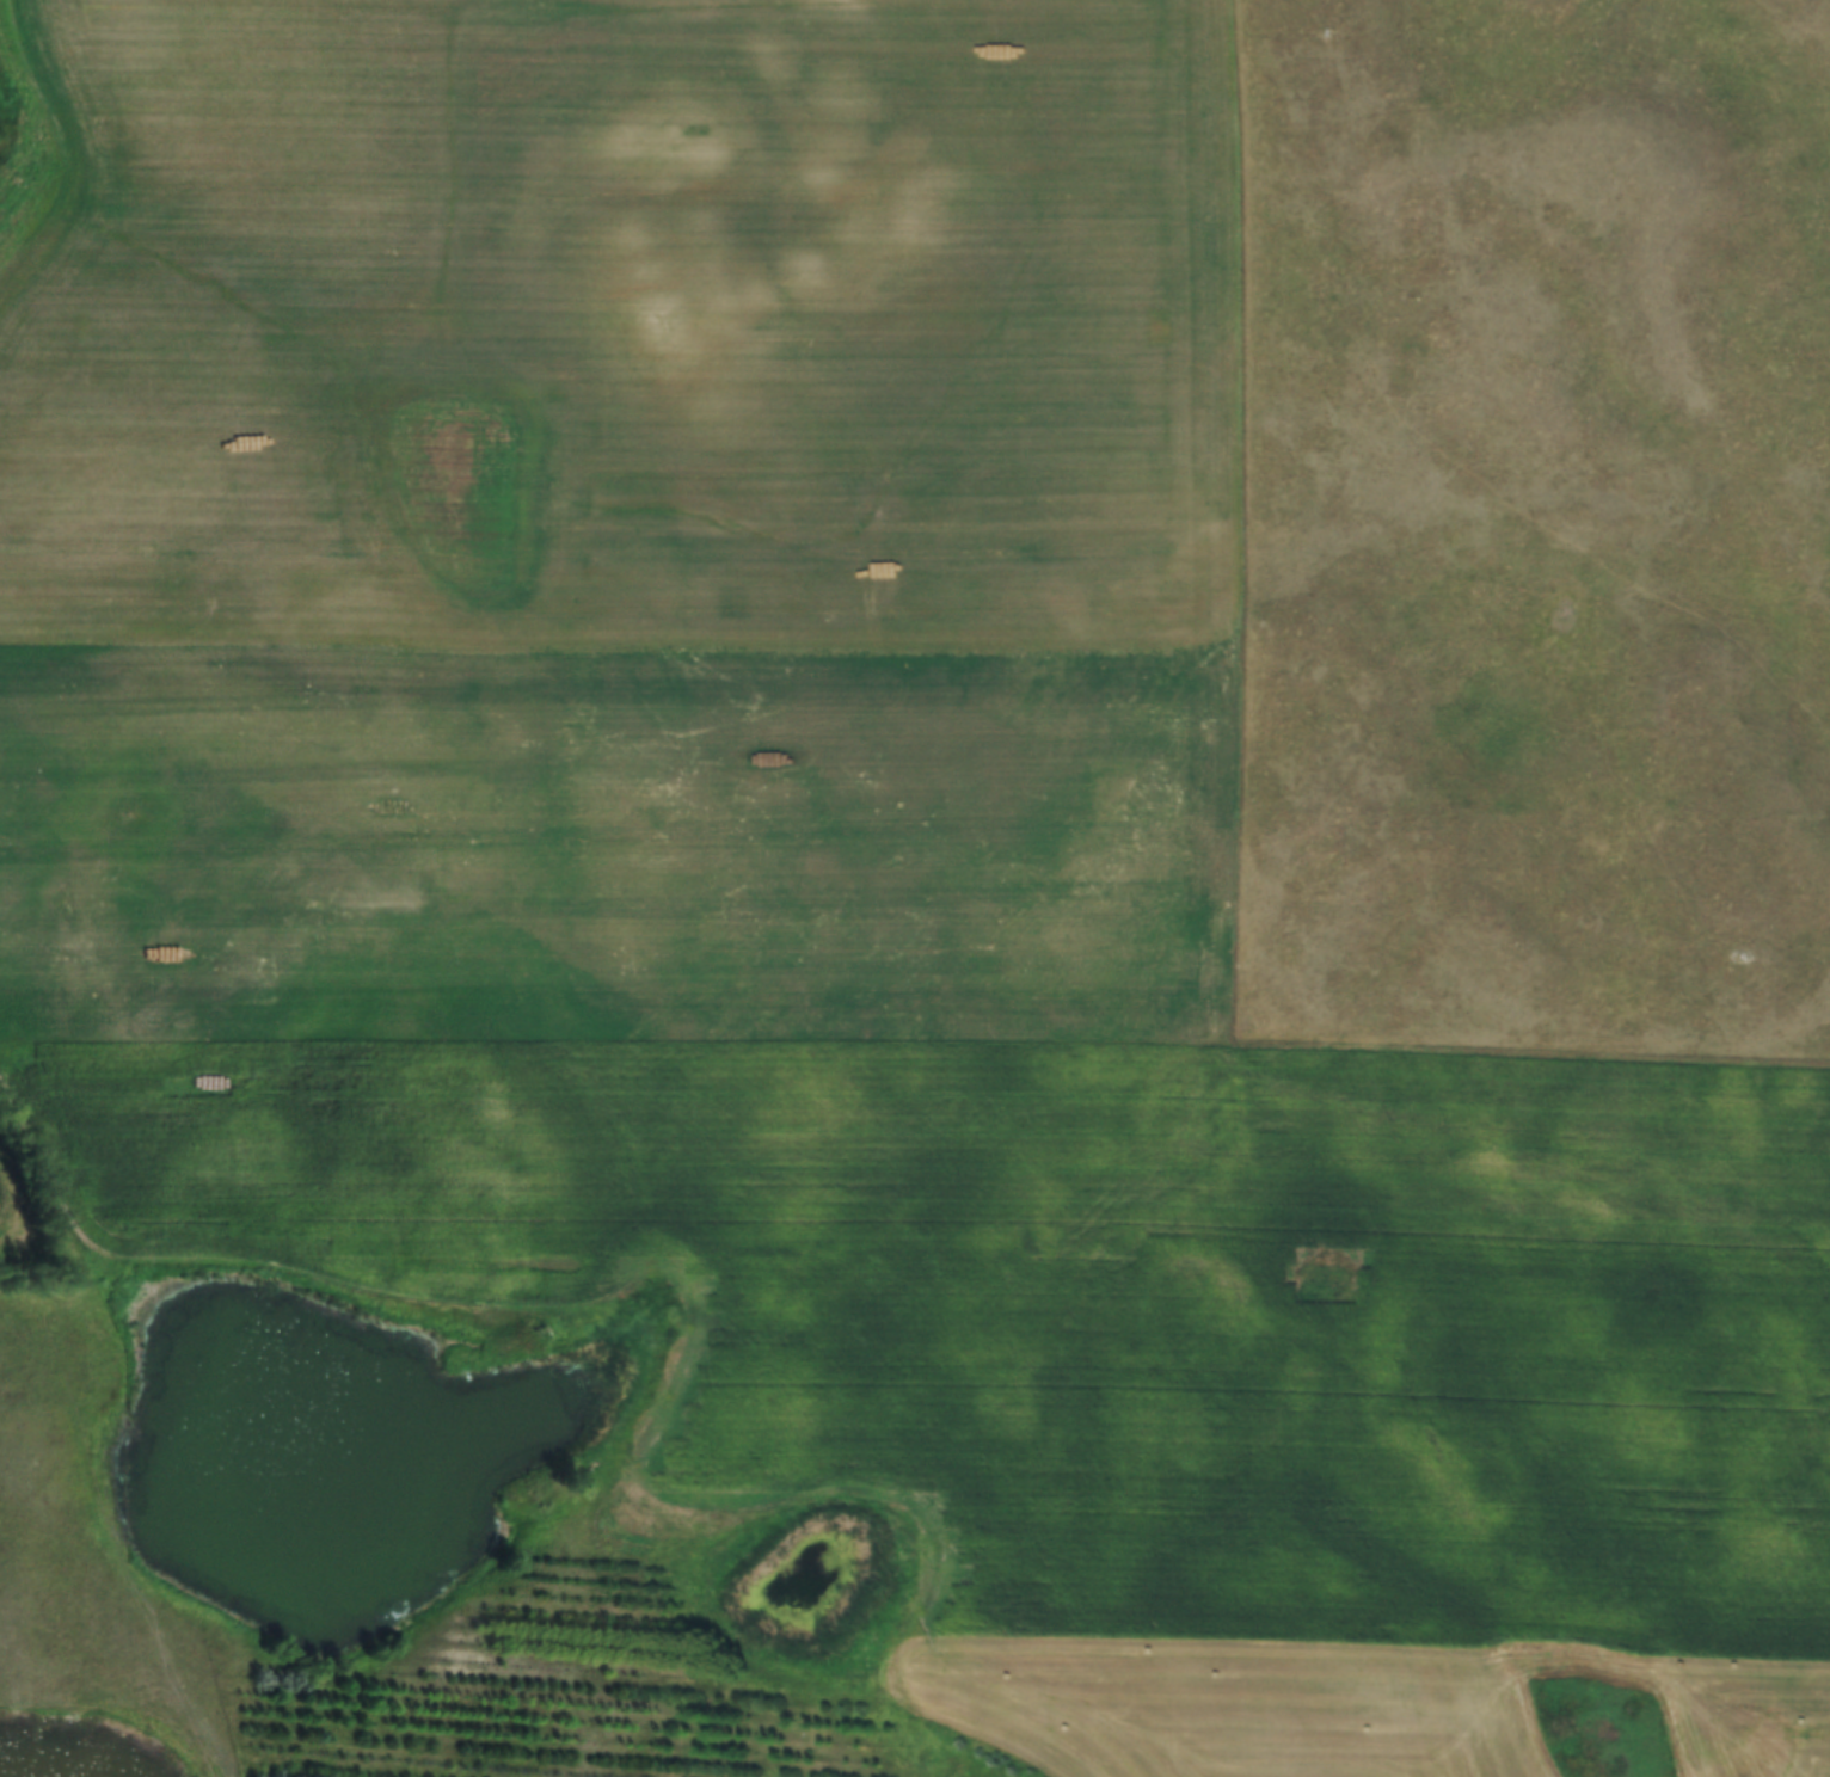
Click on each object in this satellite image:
road: (1635, 1158)

